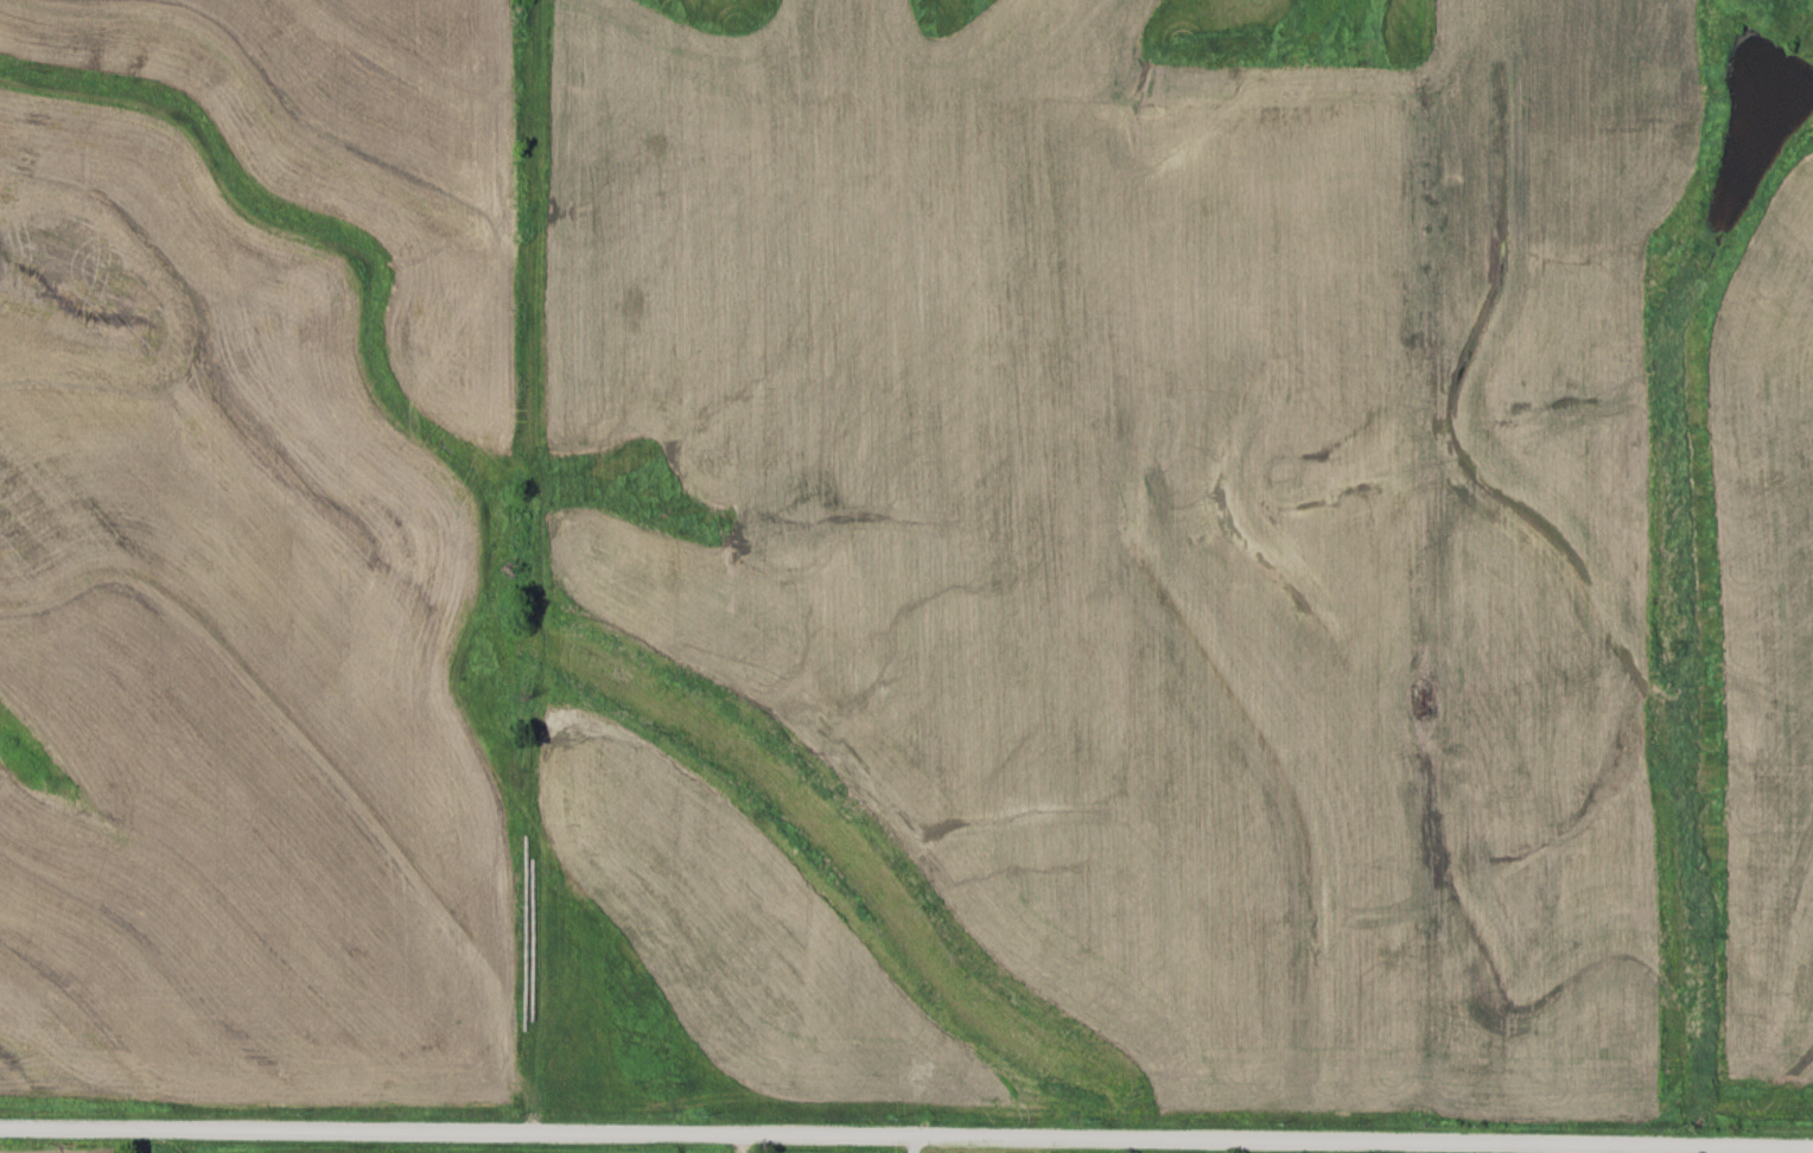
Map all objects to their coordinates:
road: (906, 1136)
road: (899, 1145)

